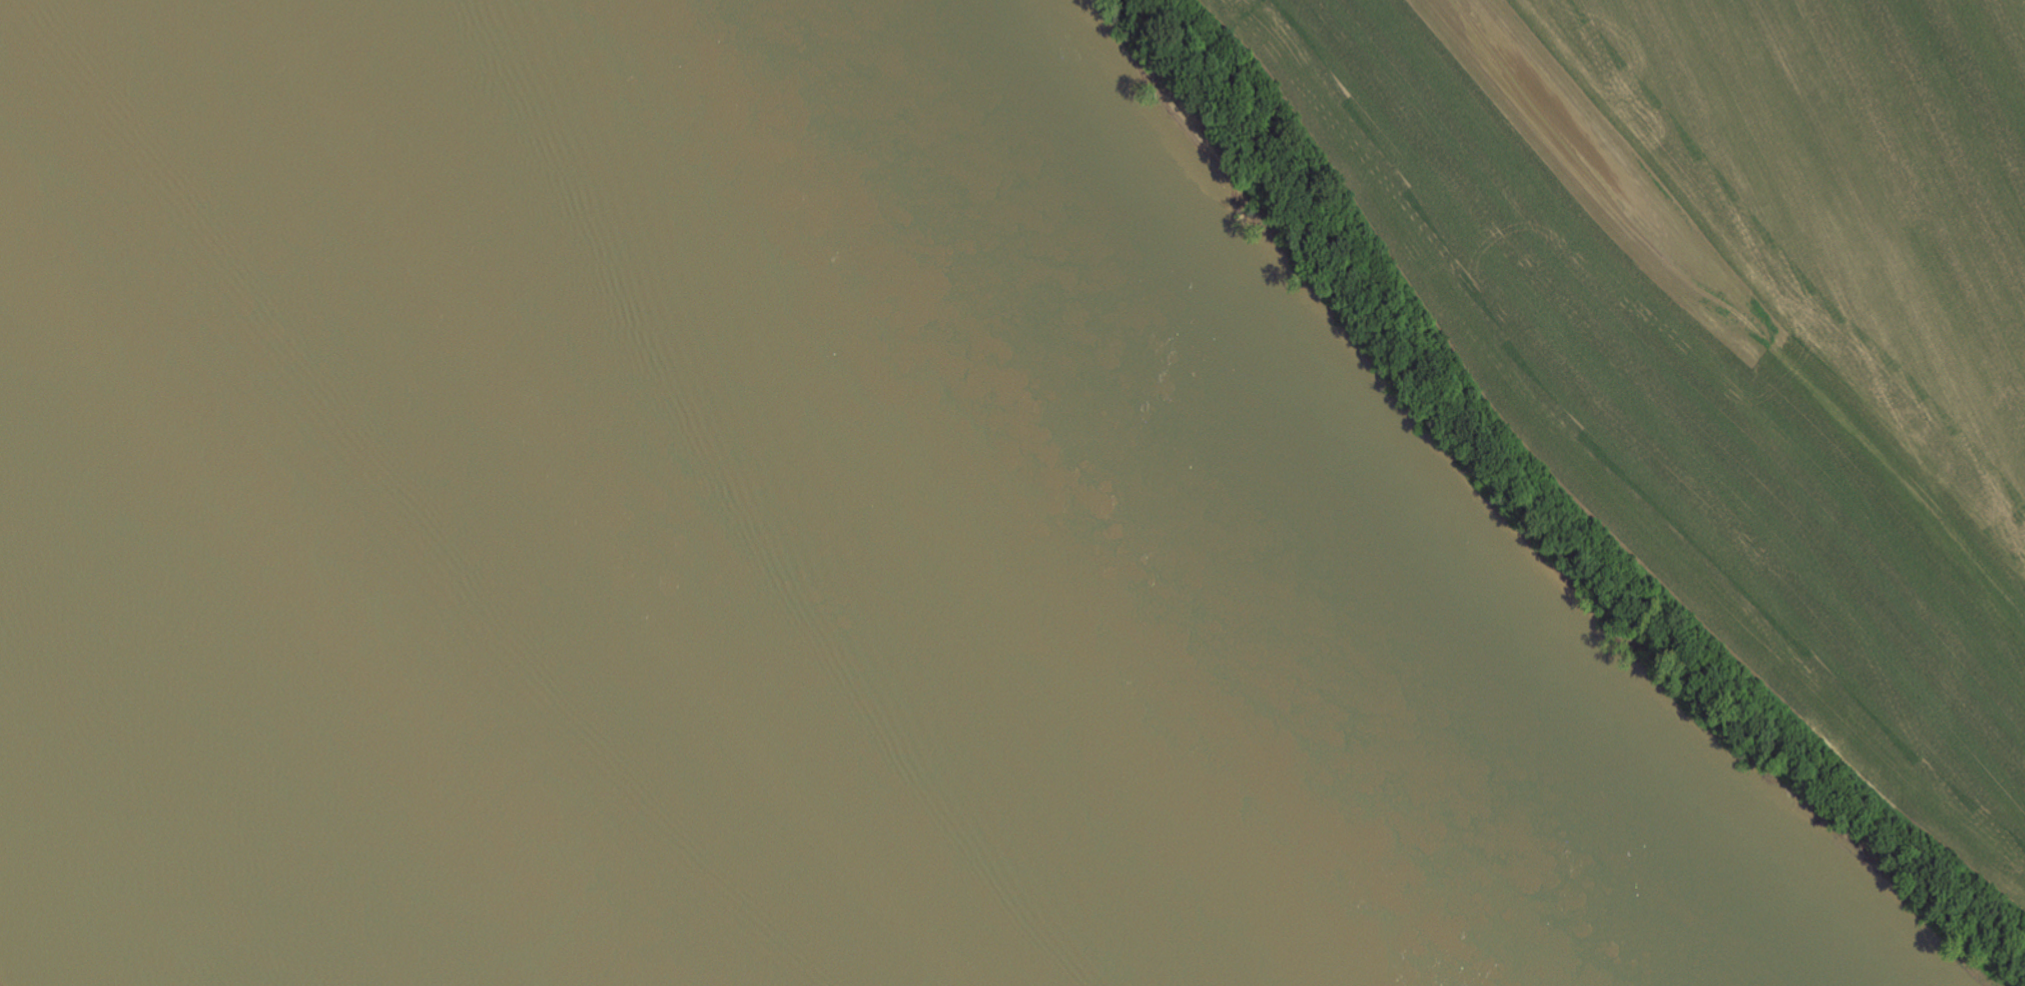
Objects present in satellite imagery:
river: (644, 496)

